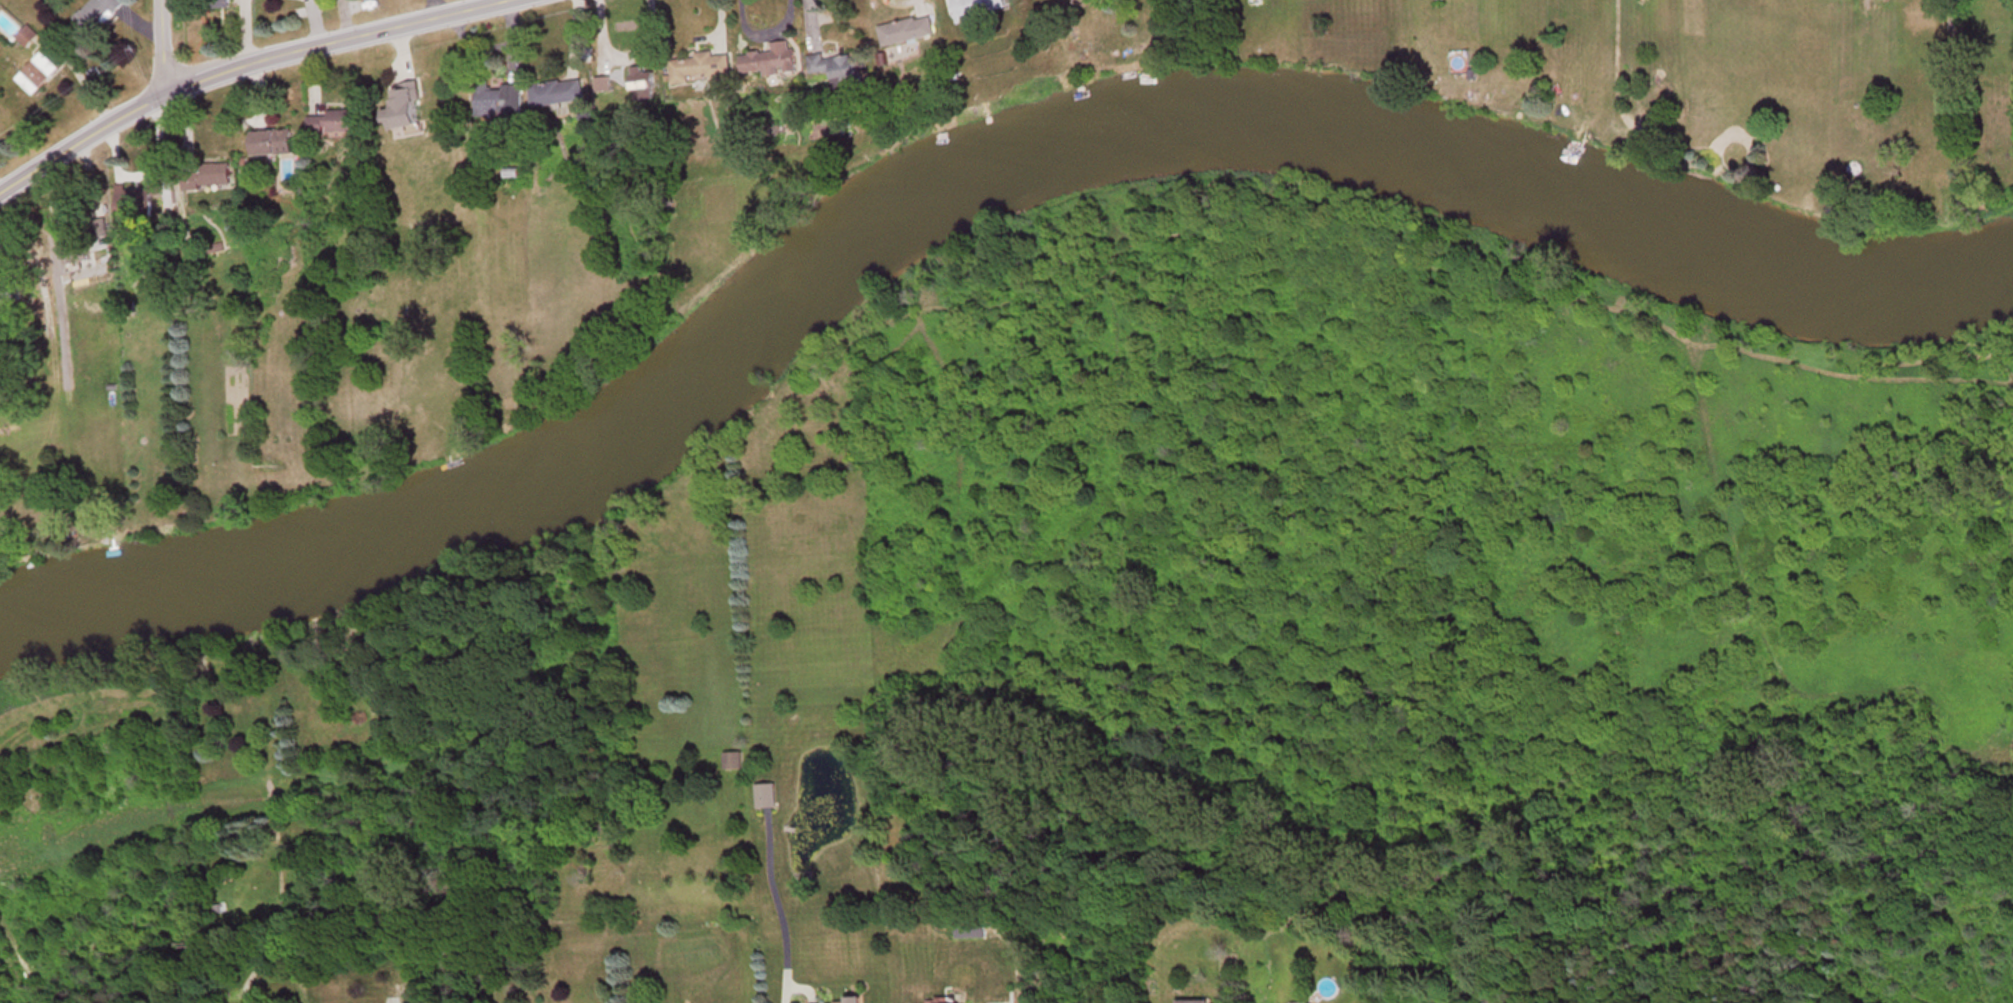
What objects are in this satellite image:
building: (222, 5)
building: (978, 11)
building: (100, 15)
building: (908, 34)
building: (29, 39)
road: (163, 48)
building: (1460, 63)
building: (772, 64)
road: (248, 66)
building: (702, 70)
building: (838, 73)
building: (39, 76)
building: (647, 85)
building: (560, 96)
building: (502, 104)
building: (405, 109)
building: (334, 125)
building: (273, 145)
river: (964, 164)
building: (208, 178)
building: (139, 204)
building: (79, 253)
building: (734, 762)
building: (768, 797)
road: (786, 904)
building: (854, 1000)
building: (1190, 1002)

